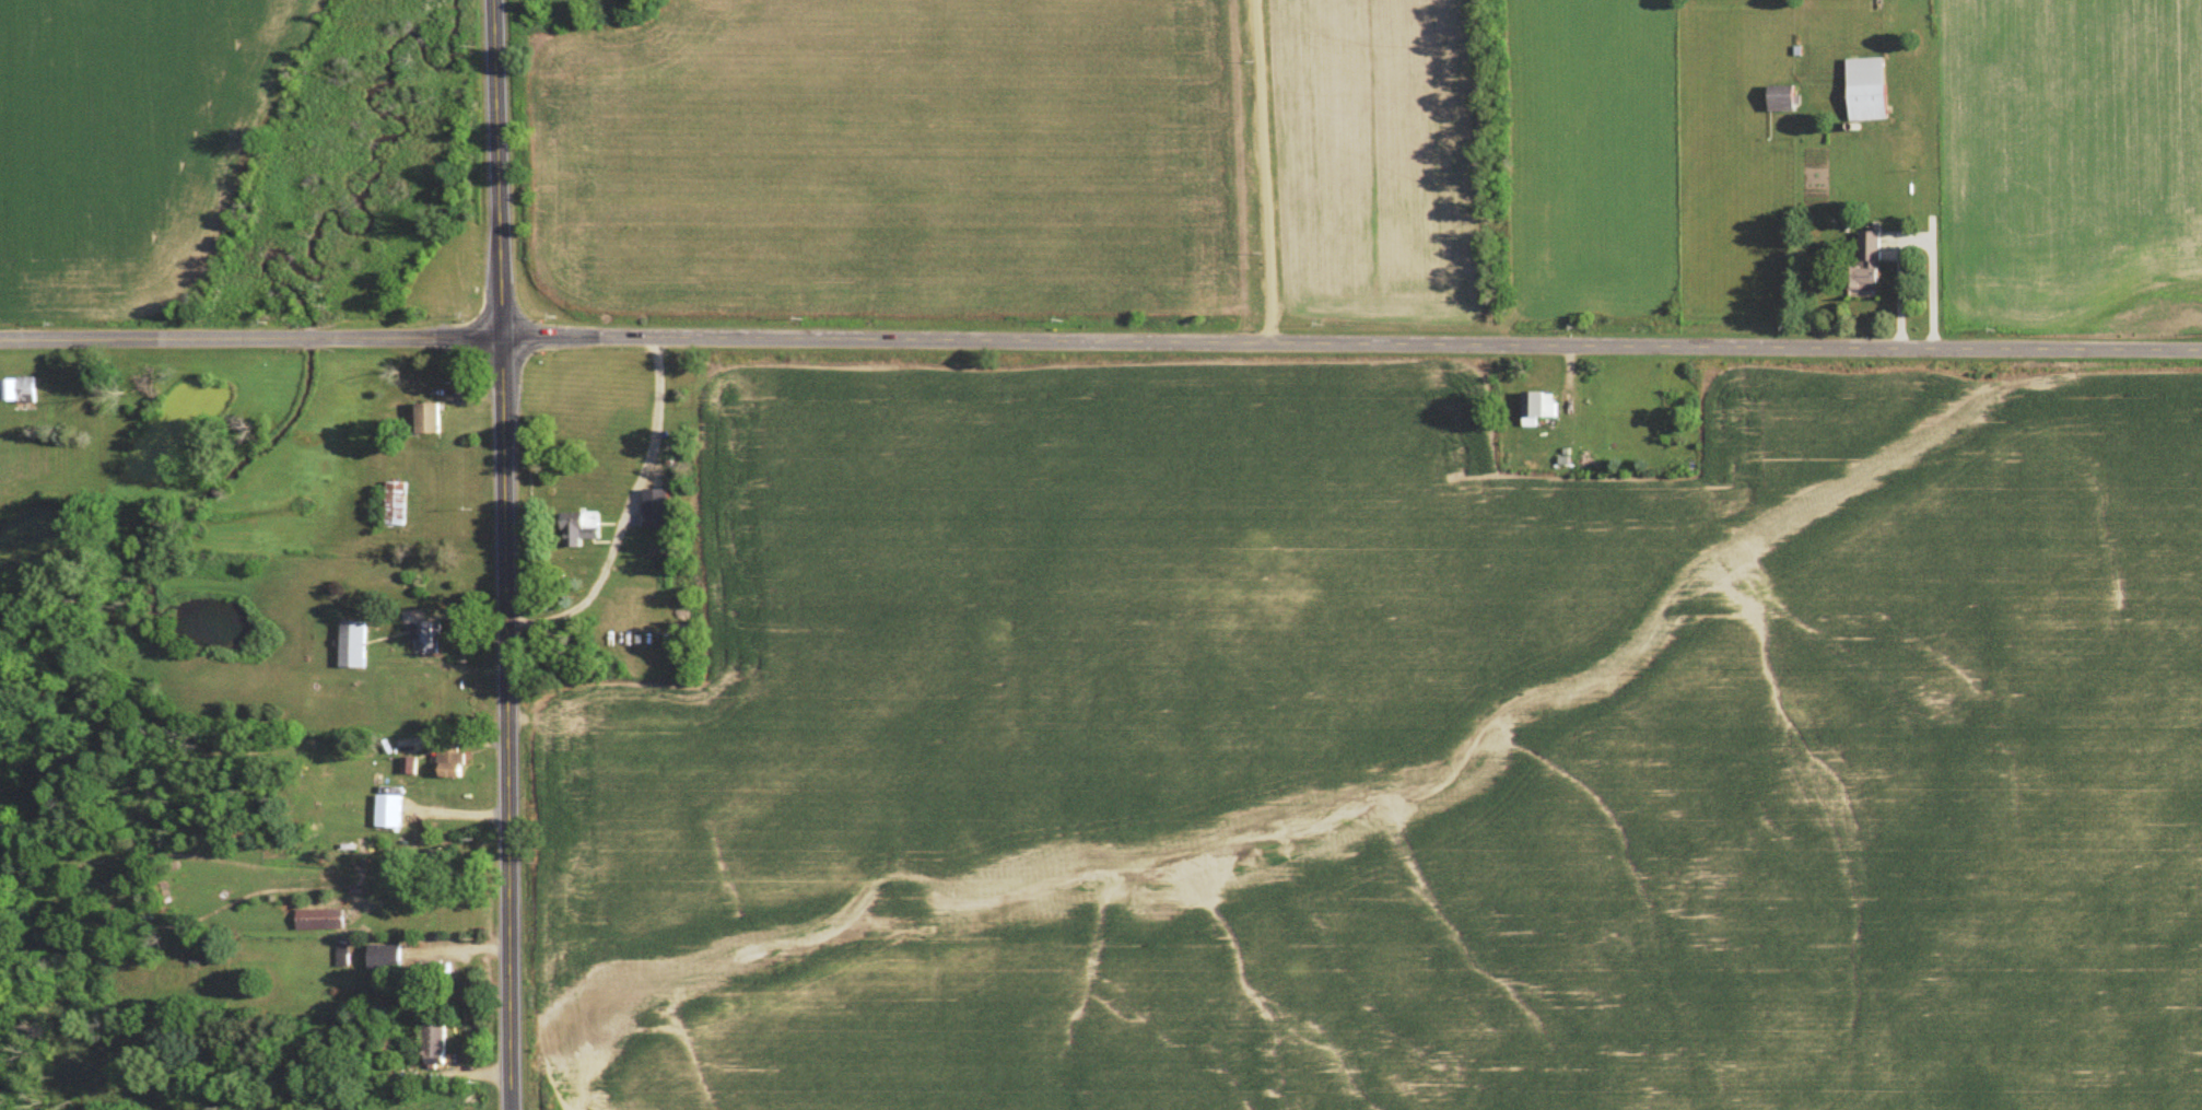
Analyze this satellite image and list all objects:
building: (1872, 92)
building: (1789, 101)
road: (1238, 171)
road: (1260, 171)
building: (1875, 264)
road: (1101, 341)
building: (23, 394)
building: (1551, 408)
building: (433, 422)
building: (398, 506)
building: (663, 511)
building: (585, 534)
road: (505, 554)
building: (621, 626)
building: (430, 640)
building: (355, 646)
building: (423, 679)
building: (386, 700)
building: (456, 766)
building: (374, 913)
building: (324, 923)
building: (387, 959)
building: (440, 1048)

